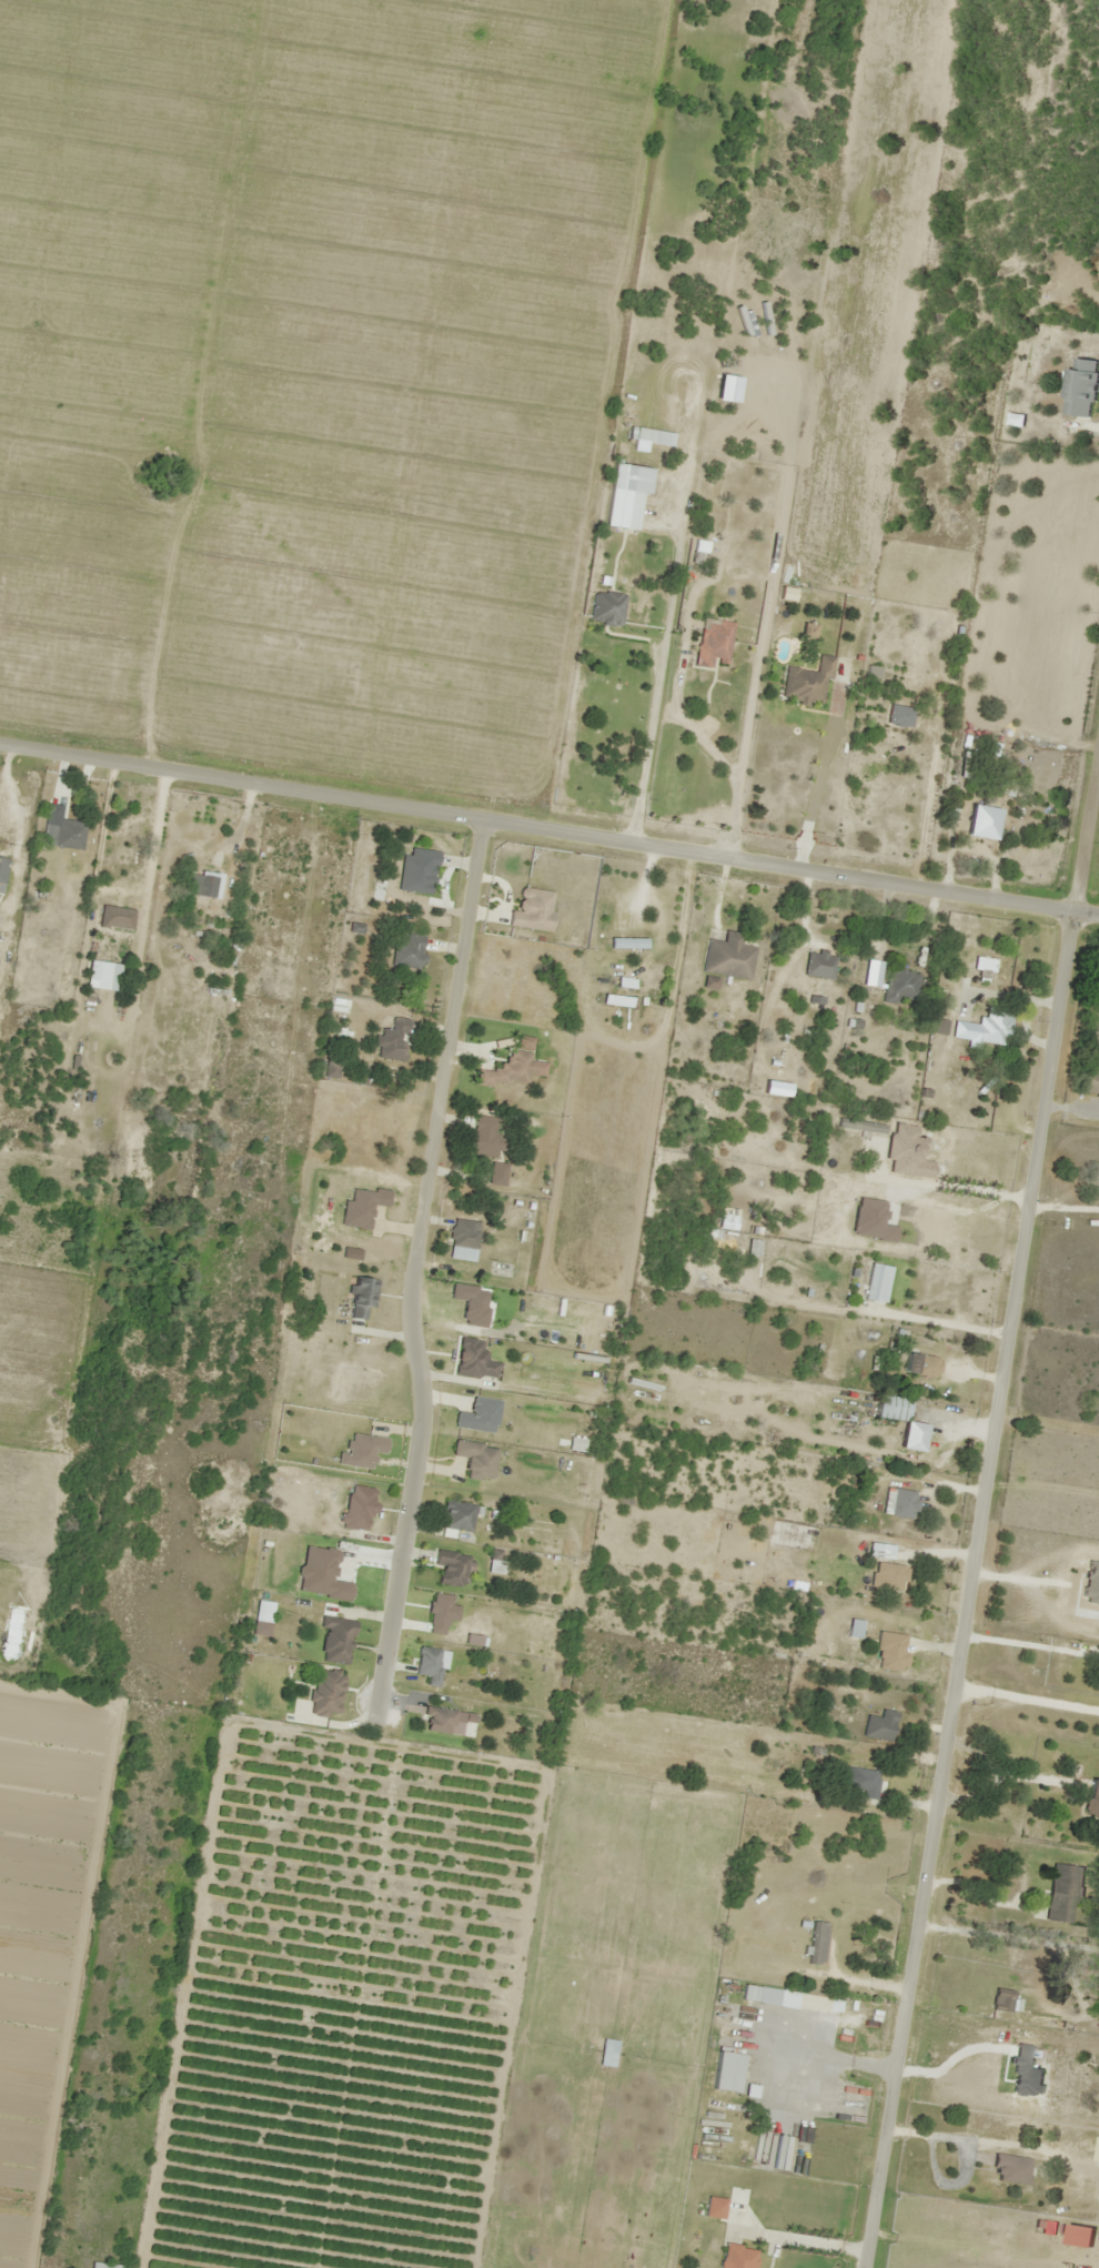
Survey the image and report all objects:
road: (182, 14)
building: (1078, 386)
building: (641, 434)
building: (621, 508)
building: (606, 607)
building: (712, 642)
building: (806, 681)
building: (980, 821)
road: (549, 825)
building: (62, 833)
building: (2, 868)
building: (417, 871)
building: (201, 884)
building: (532, 909)
building: (114, 917)
building: (626, 943)
building: (407, 951)
building: (728, 956)
building: (818, 965)
building: (899, 985)
building: (938, 1026)
building: (986, 1027)
building: (391, 1040)
building: (330, 1068)
building: (508, 1070)
building: (1090, 1082)
building: (481, 1136)
road: (428, 1146)
building: (496, 1173)
building: (463, 1233)
building: (360, 1297)
building: (473, 1359)
building: (920, 1363)
building: (899, 1419)
building: (903, 1502)
road: (992, 1505)
building: (357, 1506)
building: (456, 1514)
building: (879, 1550)
building: (451, 1568)
building: (890, 1575)
building: (334, 1640)
building: (890, 1651)
building: (879, 1725)
building: (863, 1781)
building: (1092, 1797)
building: (1062, 1892)
building: (816, 1943)
building: (748, 1992)
building: (1001, 1999)
building: (607, 2052)
building: (725, 2070)
building: (1078, 2168)
building: (713, 2207)
building: (736, 2256)
building: (104, 2265)

